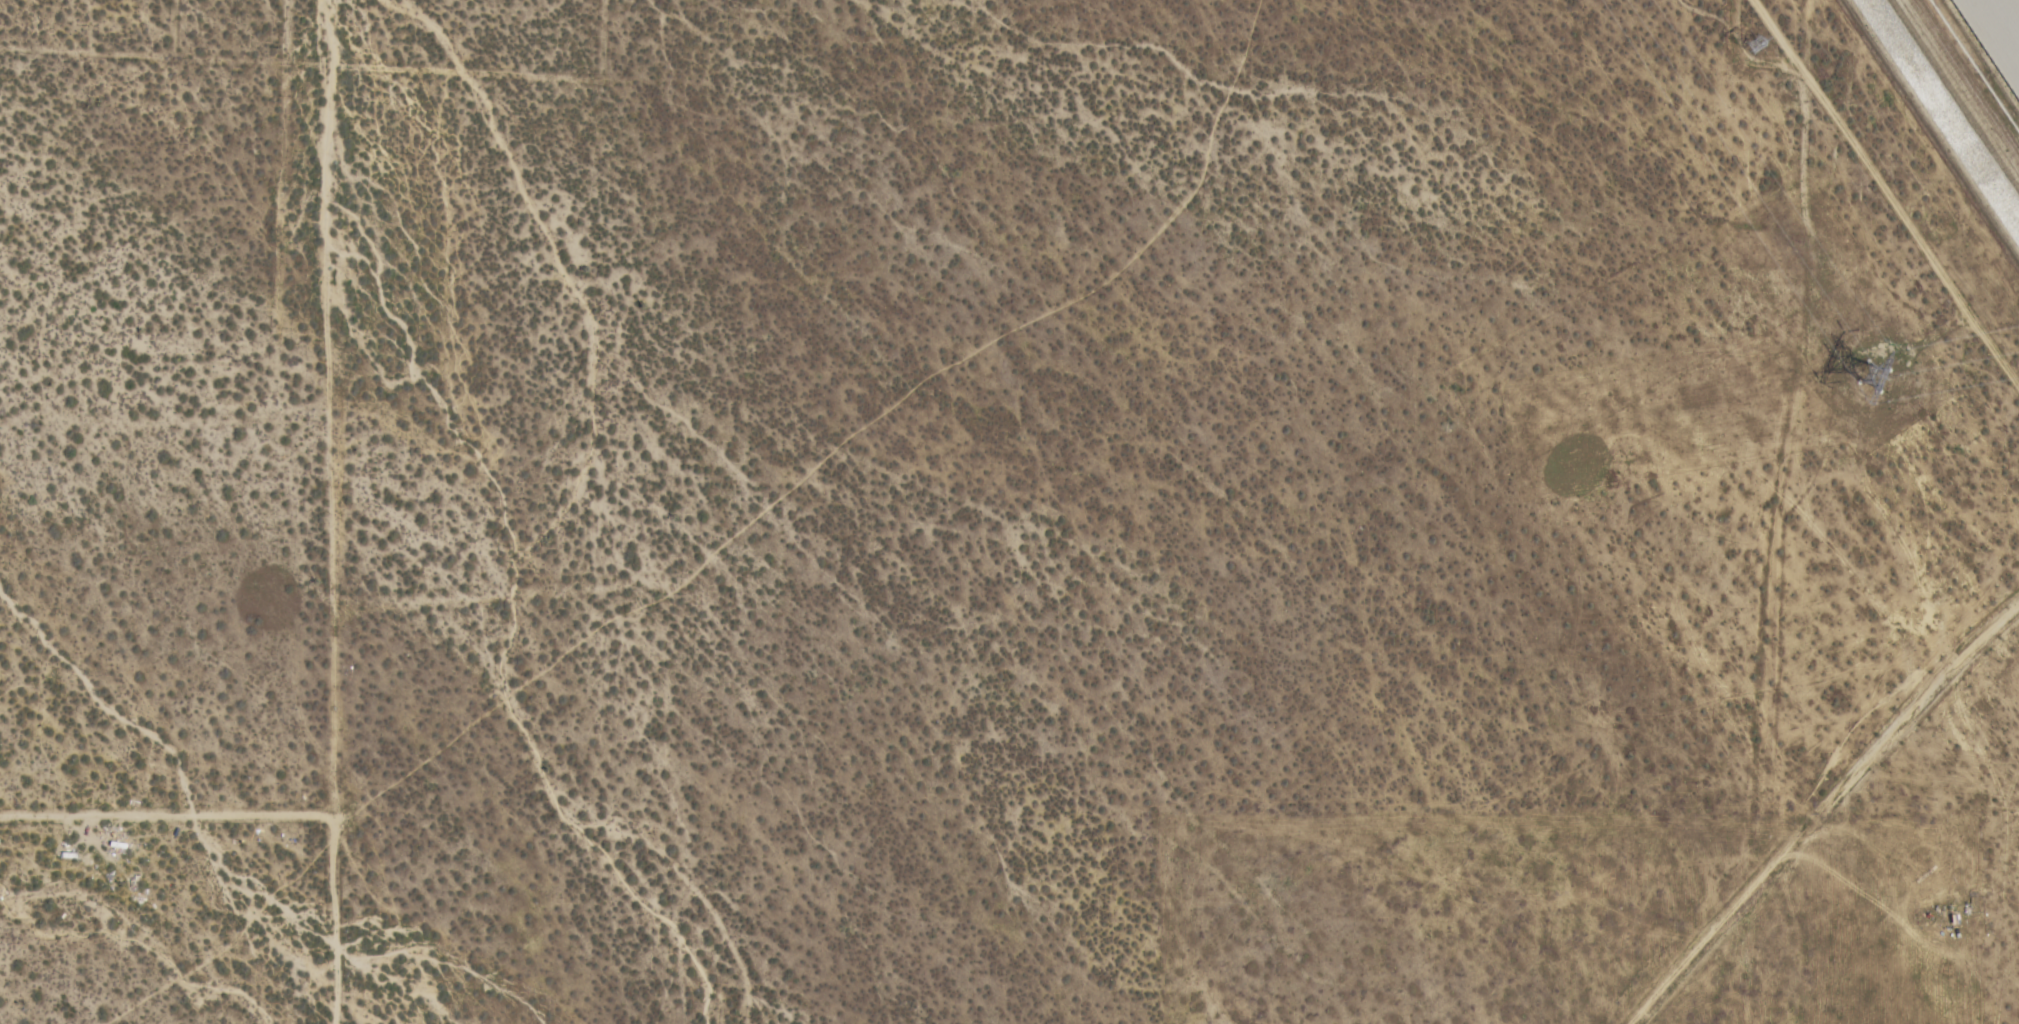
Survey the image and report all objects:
power substation: (1998, 31)
power tower: (1764, 44)
power tower: (1880, 375)
road: (1831, 815)

